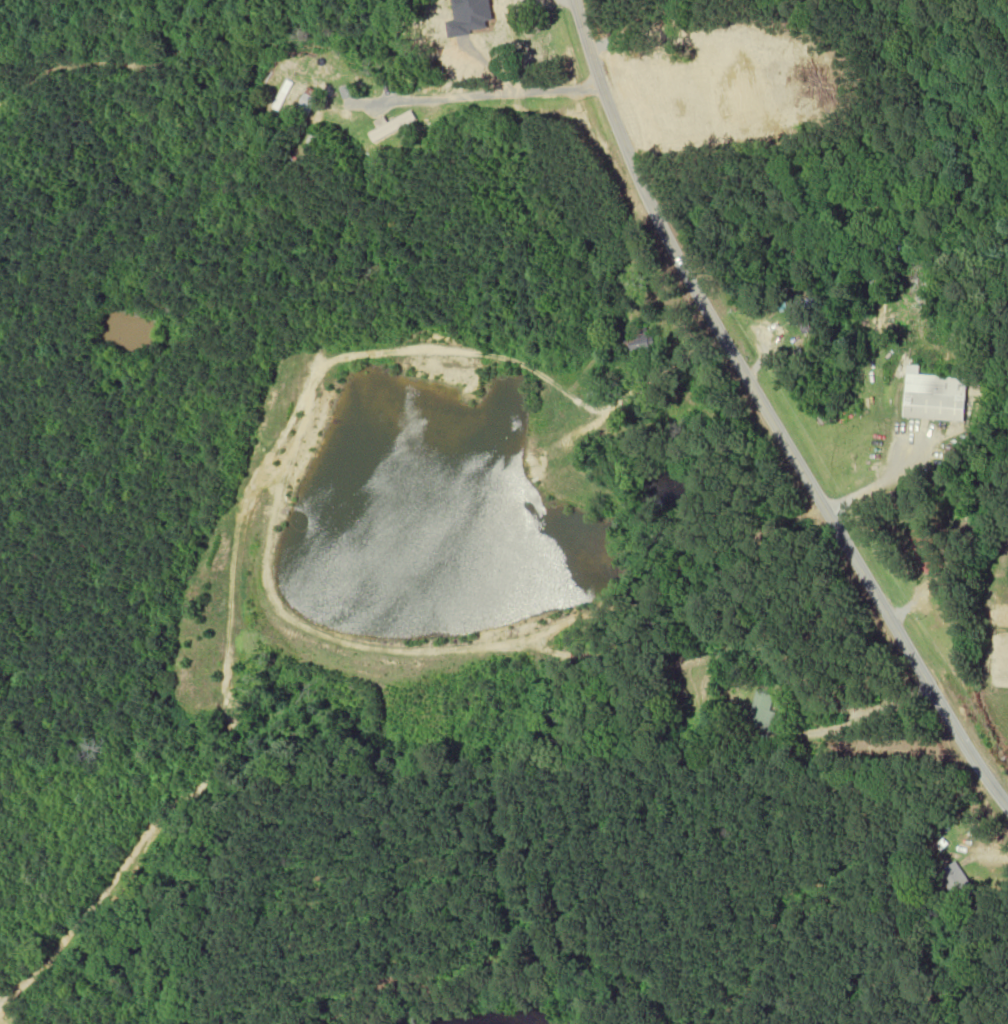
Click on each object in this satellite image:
building: (496, 2)
building: (308, 102)
building: (392, 127)
building: (638, 340)
building: (933, 396)
road: (767, 416)
building: (924, 550)
building: (760, 712)
building: (953, 876)

